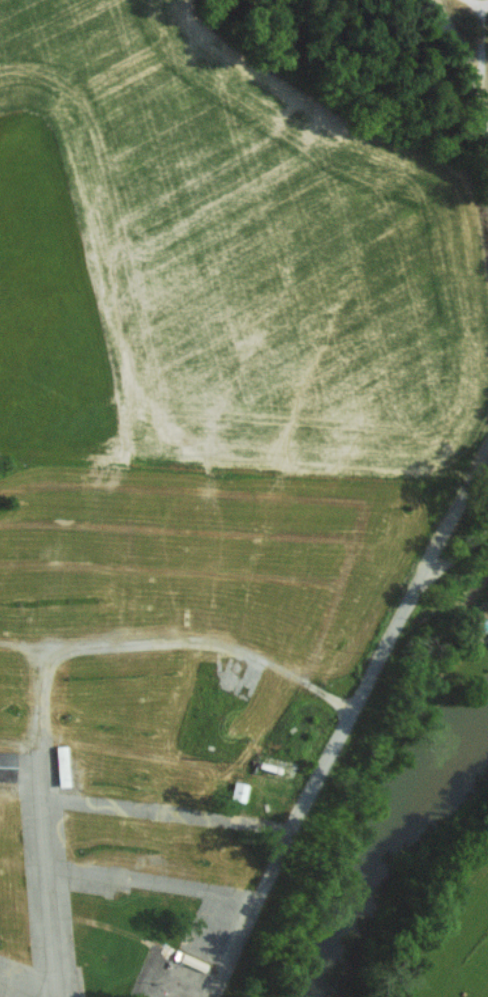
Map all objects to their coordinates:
road: (469, 11)
road: (466, 63)
road: (459, 549)
road: (39, 664)
road: (343, 731)
building: (6, 765)
building: (62, 765)
building: (239, 791)
road: (169, 811)
river: (381, 861)
road: (154, 878)

